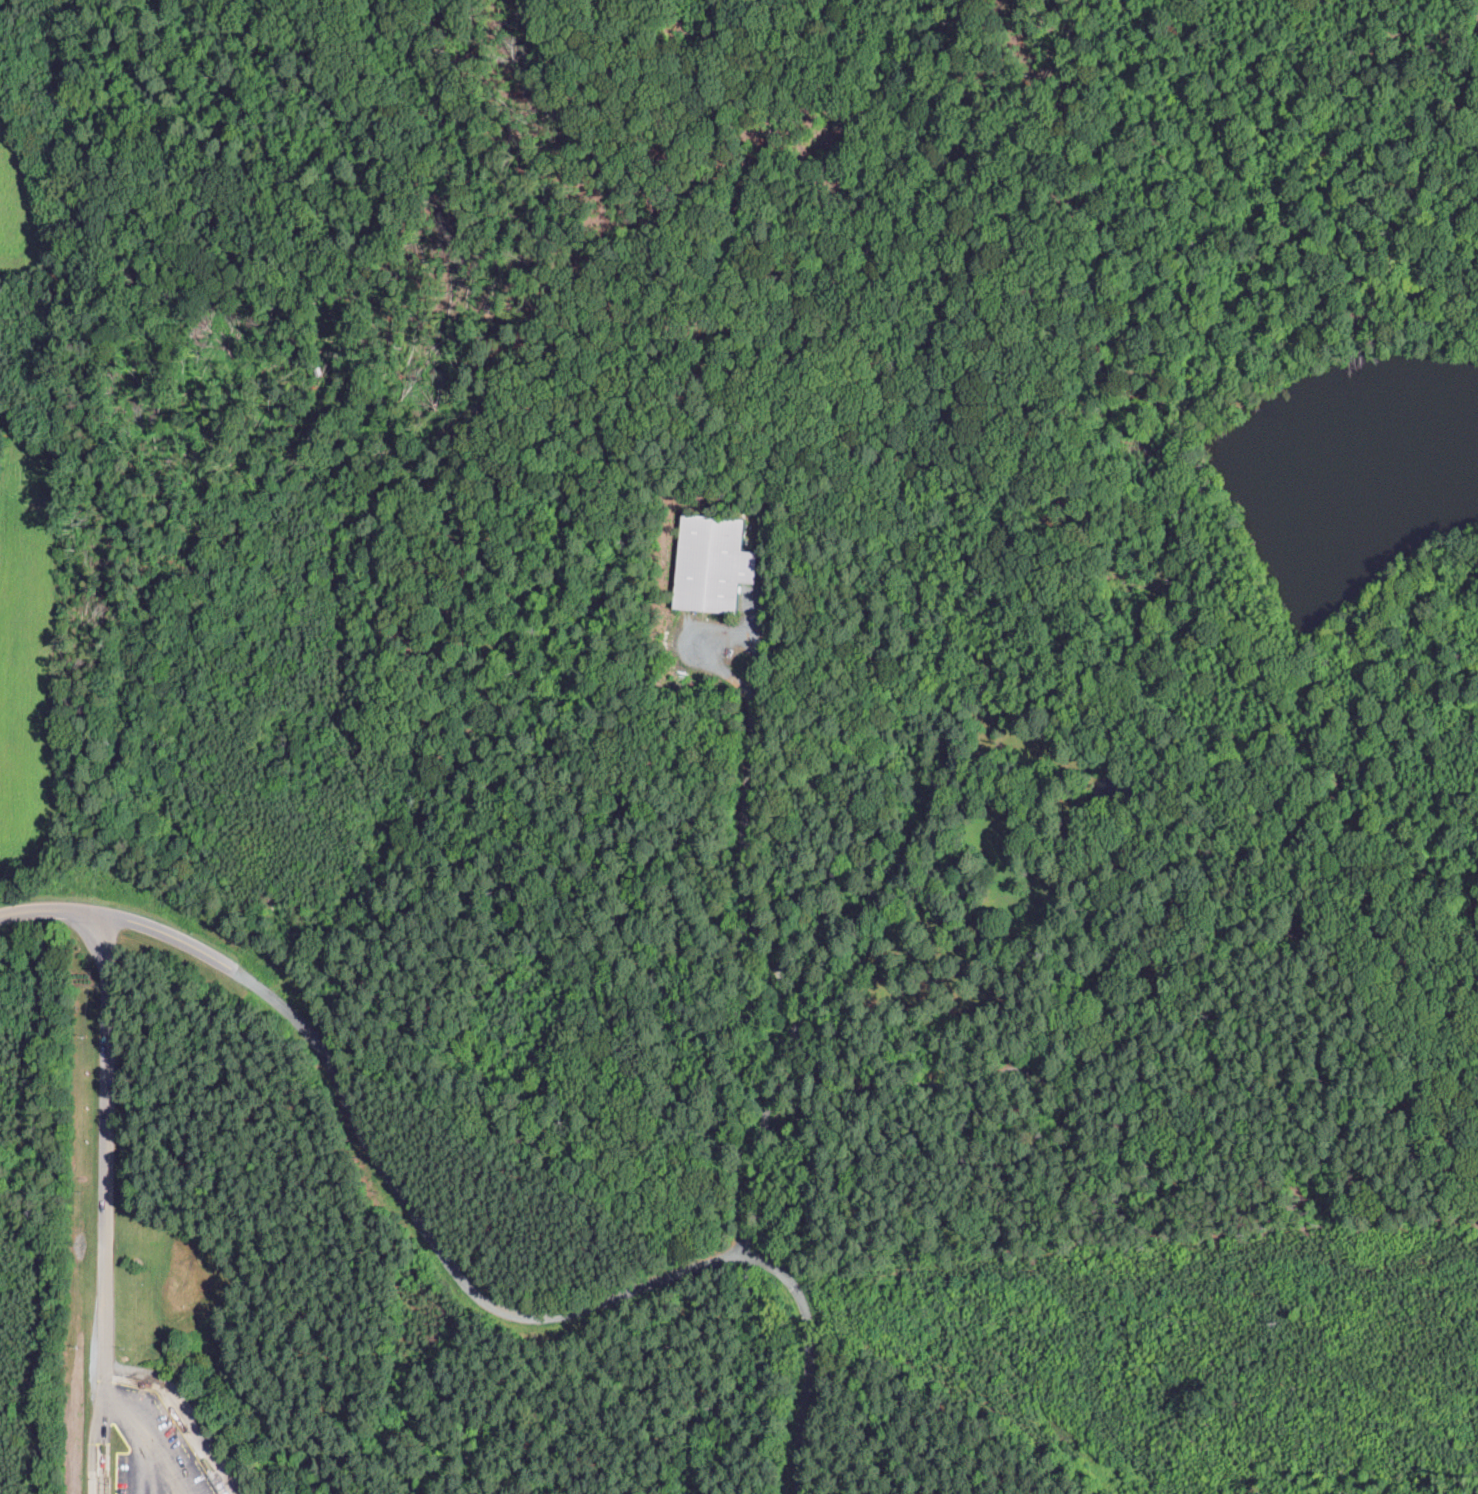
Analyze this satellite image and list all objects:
road: (743, 870)
road: (106, 1204)
road: (447, 1252)
road: (154, 1434)
road: (138, 1455)

